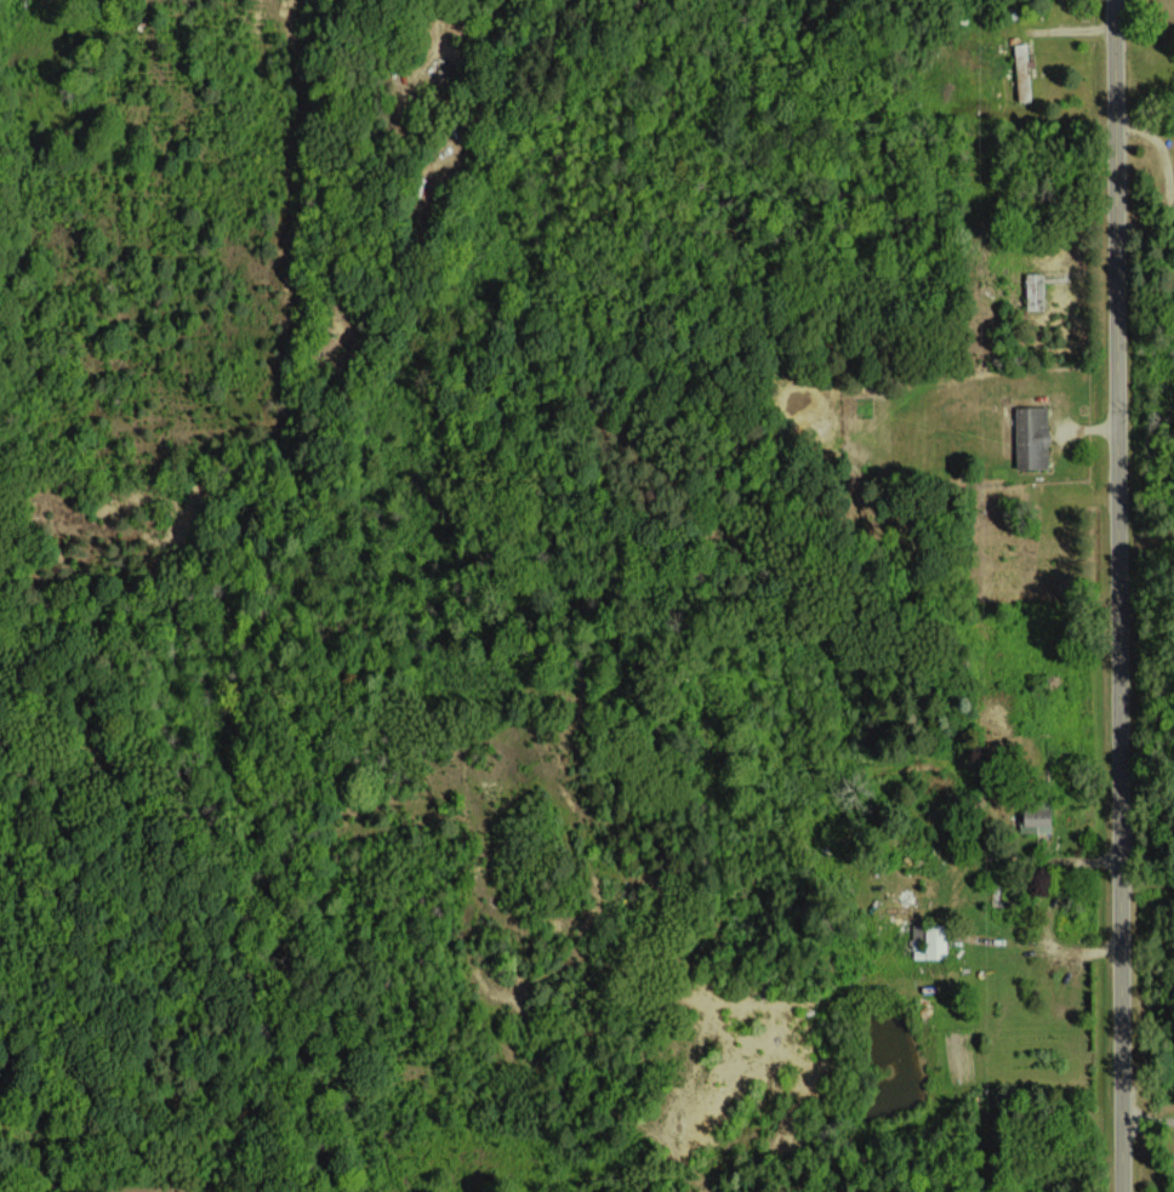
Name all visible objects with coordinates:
building: (1022, 72)
building: (1033, 290)
building: (1030, 437)
road: (1117, 595)
building: (930, 942)
road: (1045, 943)
road: (1147, 1119)

